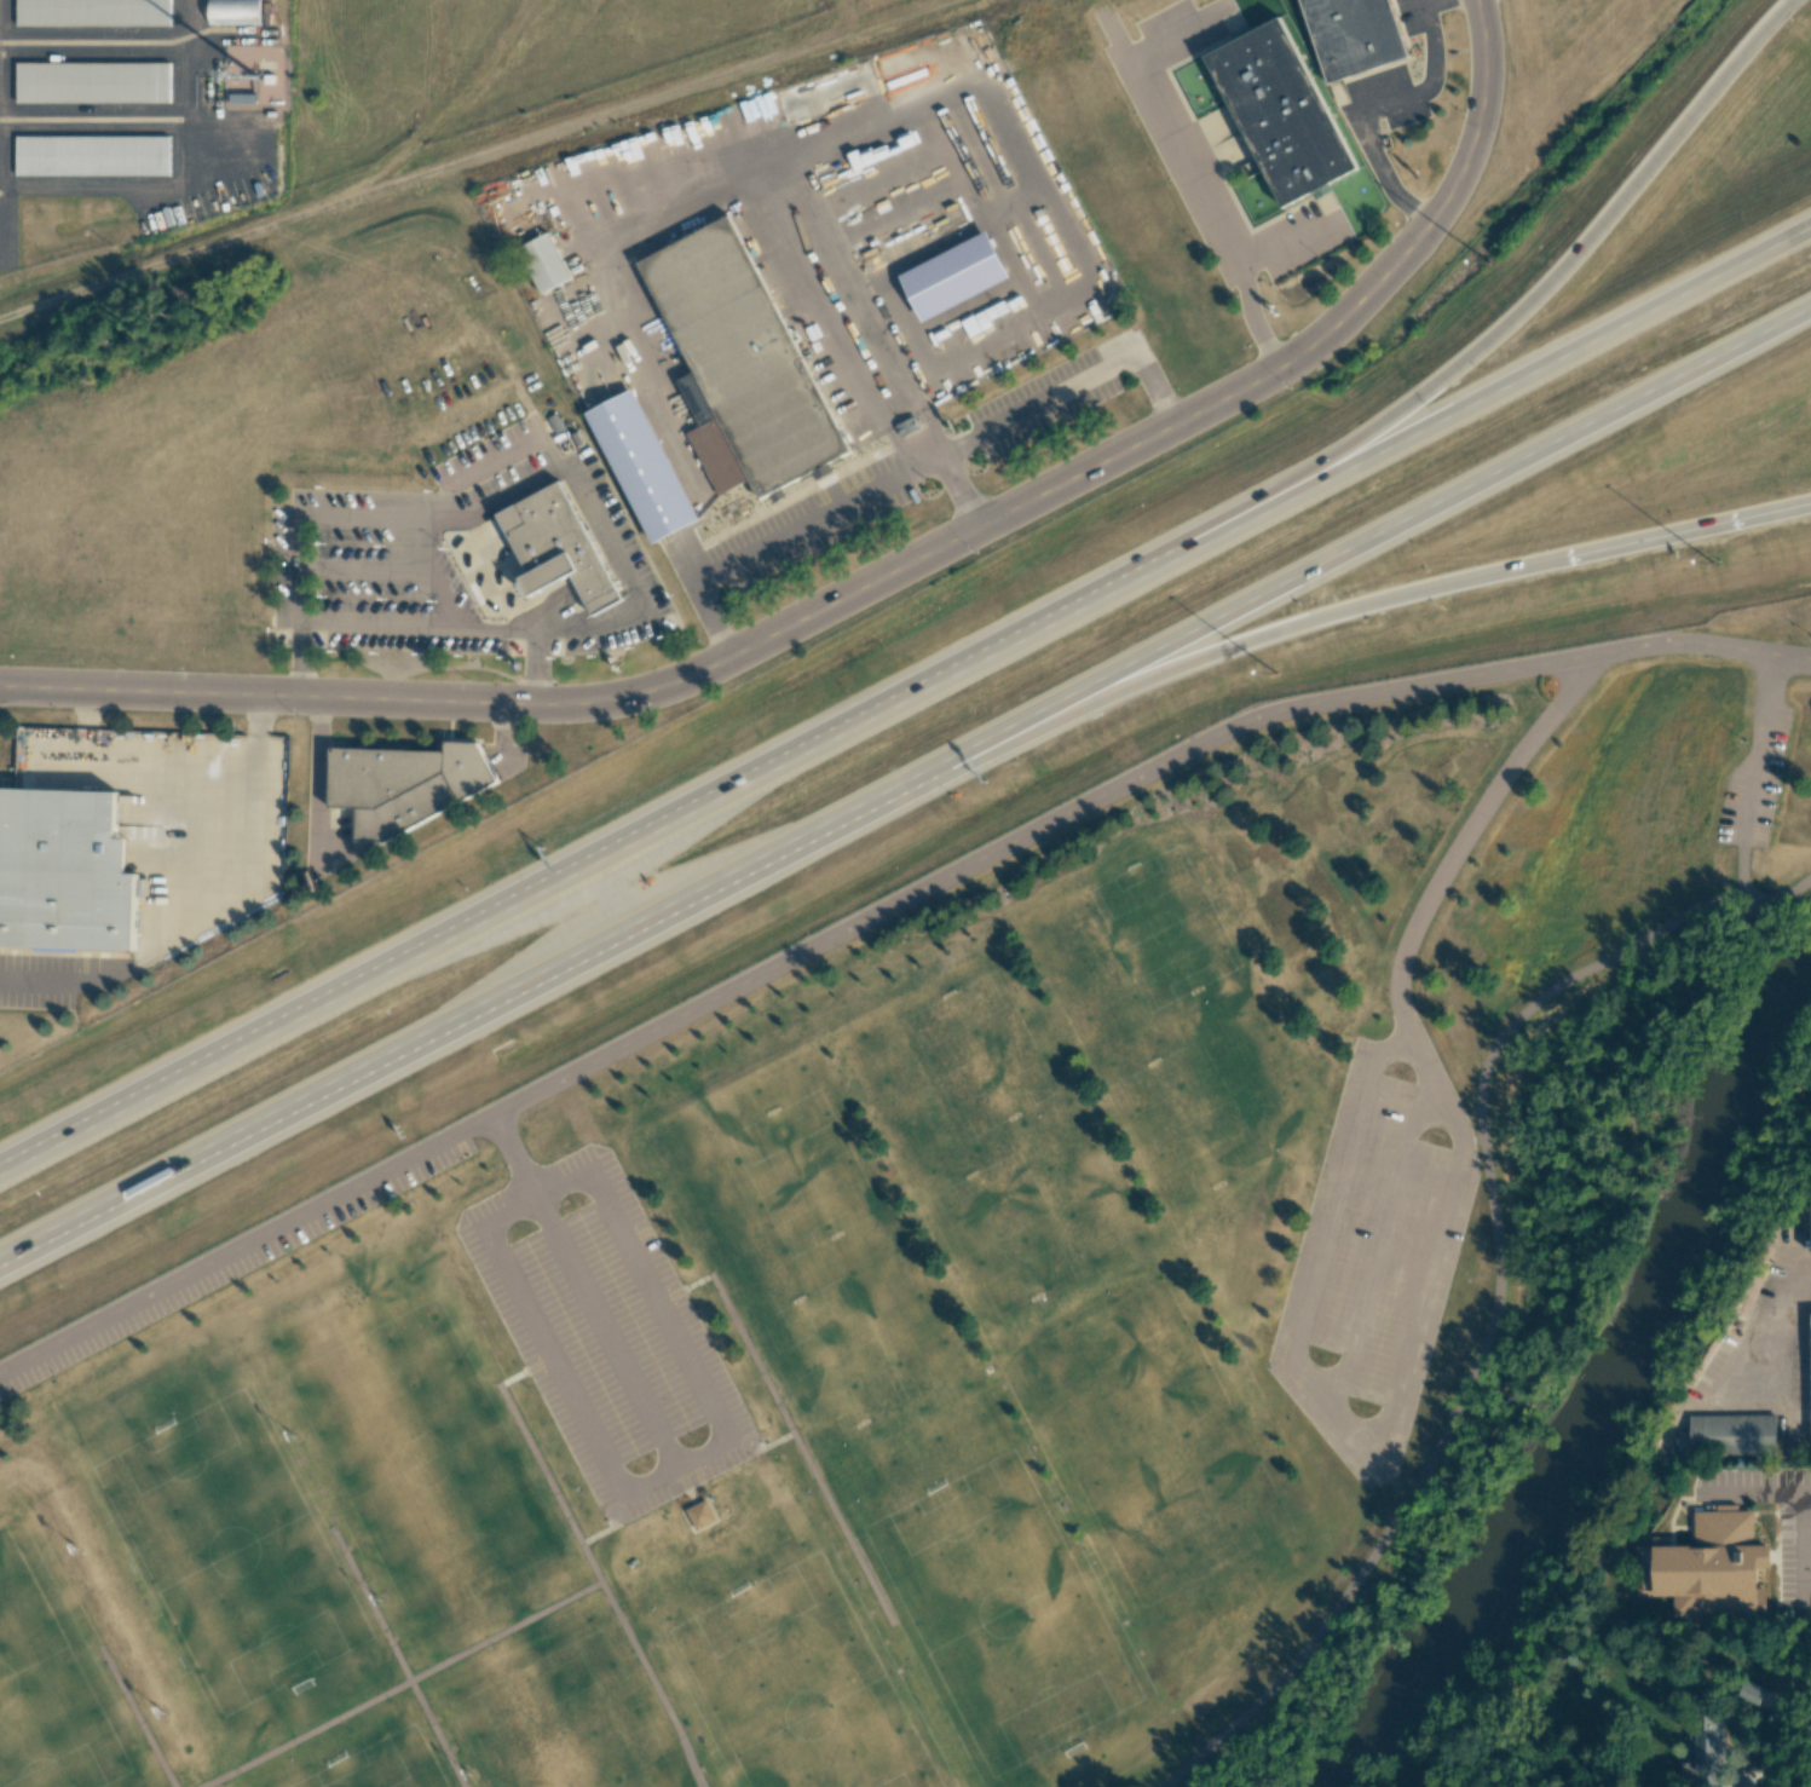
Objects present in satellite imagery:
road: (1421, 2)
building: (93, 12)
building: (233, 12)
road: (1482, 29)
building: (1354, 35)
building: (92, 82)
building: (830, 92)
road: (1383, 108)
building: (1281, 114)
building: (92, 155)
road: (1193, 174)
street lamp: (1488, 260)
building: (544, 264)
building: (956, 277)
road: (1513, 317)
building: (742, 368)
road: (1490, 394)
road: (913, 465)
building: (642, 468)
road: (957, 491)
road: (509, 495)
road: (1740, 519)
road: (1368, 538)
building: (556, 548)
street lamp: (1712, 561)
road: (849, 595)
road: (416, 626)
road: (1288, 626)
road: (1793, 657)
street lamp: (1274, 671)
road: (504, 733)
road: (1760, 746)
road: (324, 769)
parking lot: (1754, 777)
building: (404, 784)
road: (583, 861)
building: (64, 871)
road: (1740, 871)
road: (1436, 889)
road: (606, 897)
road: (1777, 899)
road: (210, 911)
road: (866, 922)
park: (1177, 1007)
road: (463, 1018)
park: (993, 1141)
road: (515, 1157)
road: (1378, 1240)
park: (965, 1253)
park: (814, 1258)
parking lot: (1371, 1275)
road: (1492, 1324)
road: (606, 1330)
parking lot: (606, 1335)
road: (1771, 1365)
river: (1605, 1390)
road: (1321, 1396)
road: (788, 1417)
building: (1728, 1435)
road: (782, 1441)
park: (420, 1455)
park: (1160, 1460)
road: (671, 1466)
road: (1760, 1492)
building: (702, 1515)
road: (594, 1537)
road: (1803, 1544)
park: (229, 1553)
building: (1712, 1569)
park: (986, 1593)
road: (526, 1620)
road: (1803, 1649)
road: (639, 1654)
road: (397, 1659)
park: (784, 1672)
park: (48, 1691)
building: (1749, 1691)
road: (137, 1717)
park: (567, 1724)
building: (1705, 1752)
road: (692, 1756)
park: (370, 1769)

